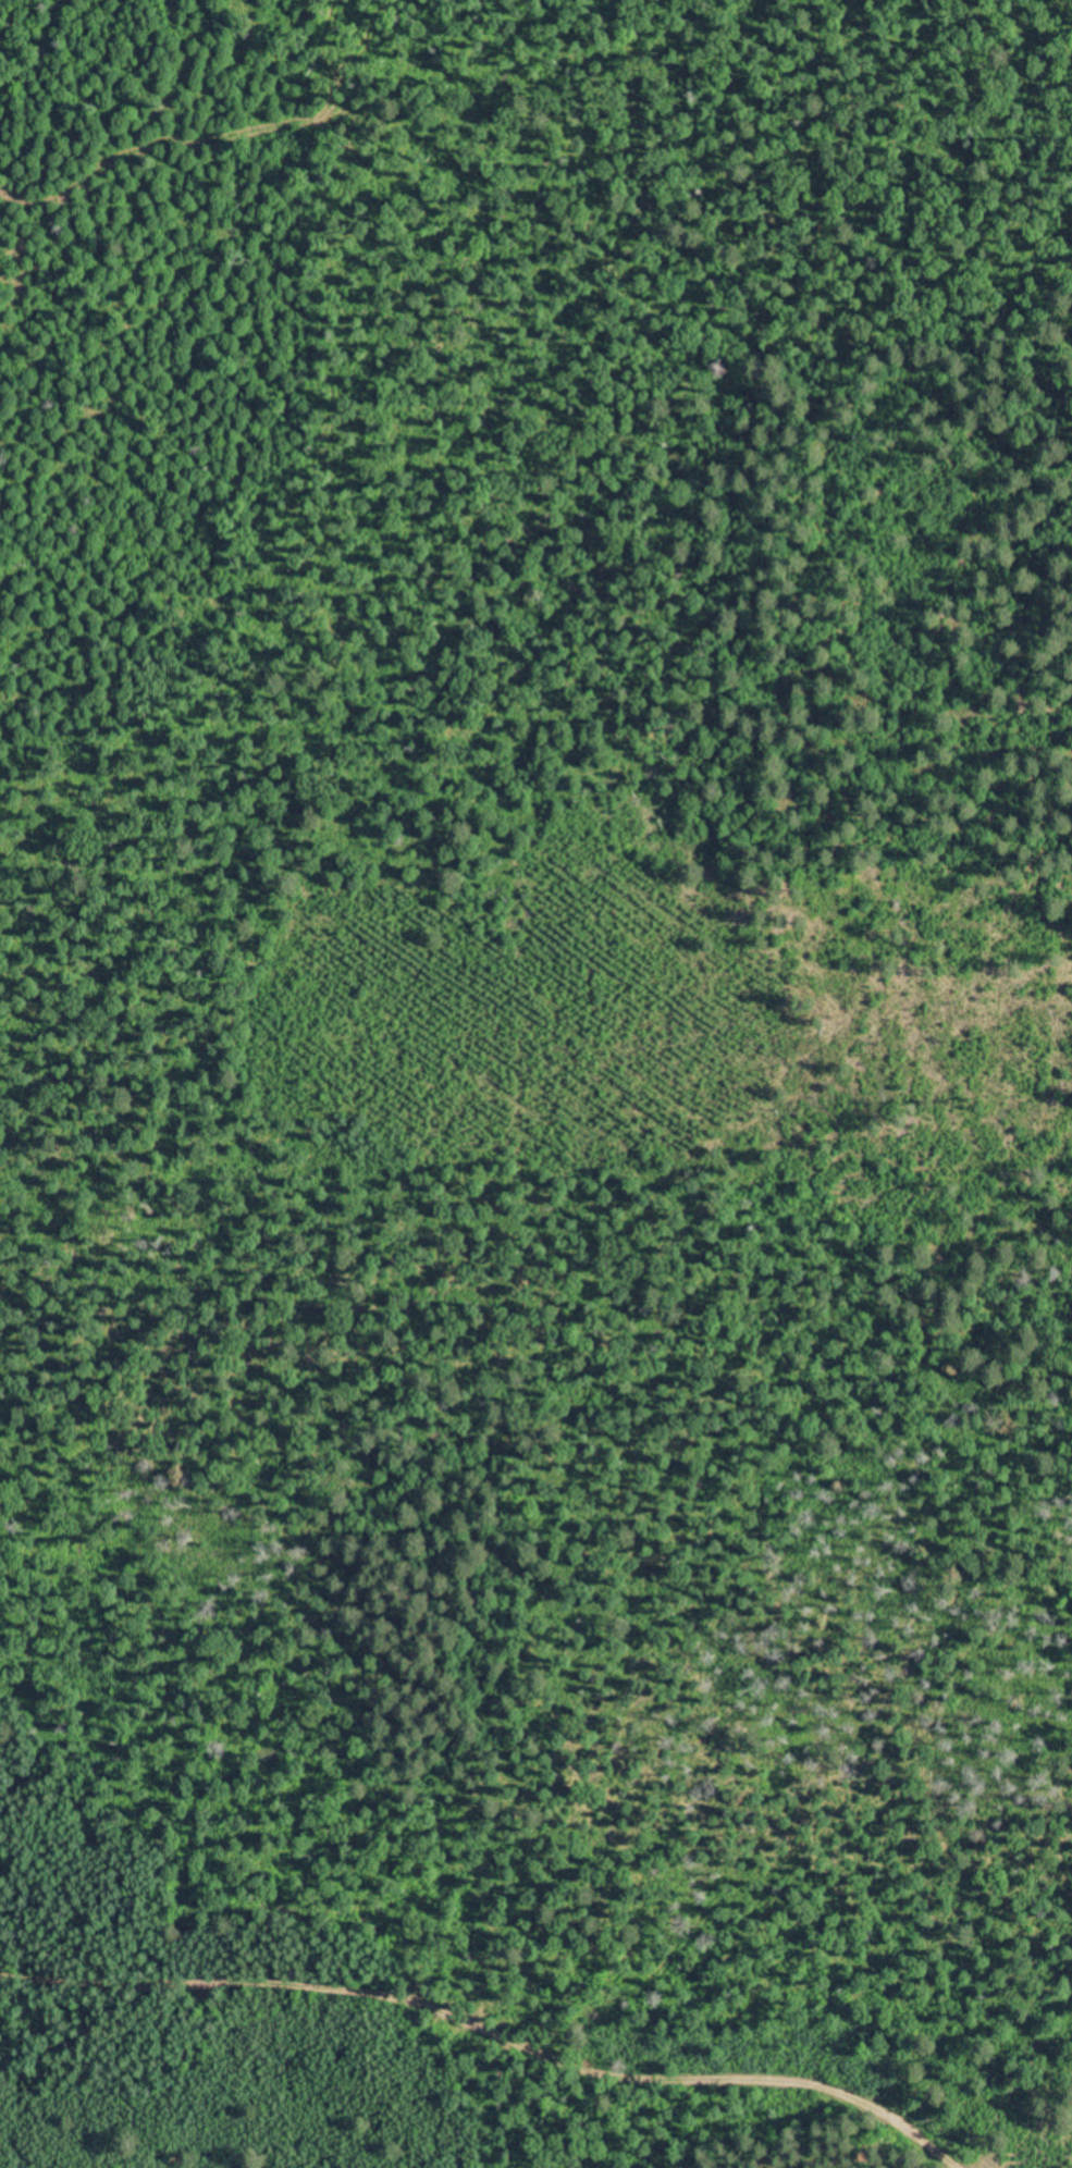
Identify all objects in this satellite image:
road: (492, 2007)

